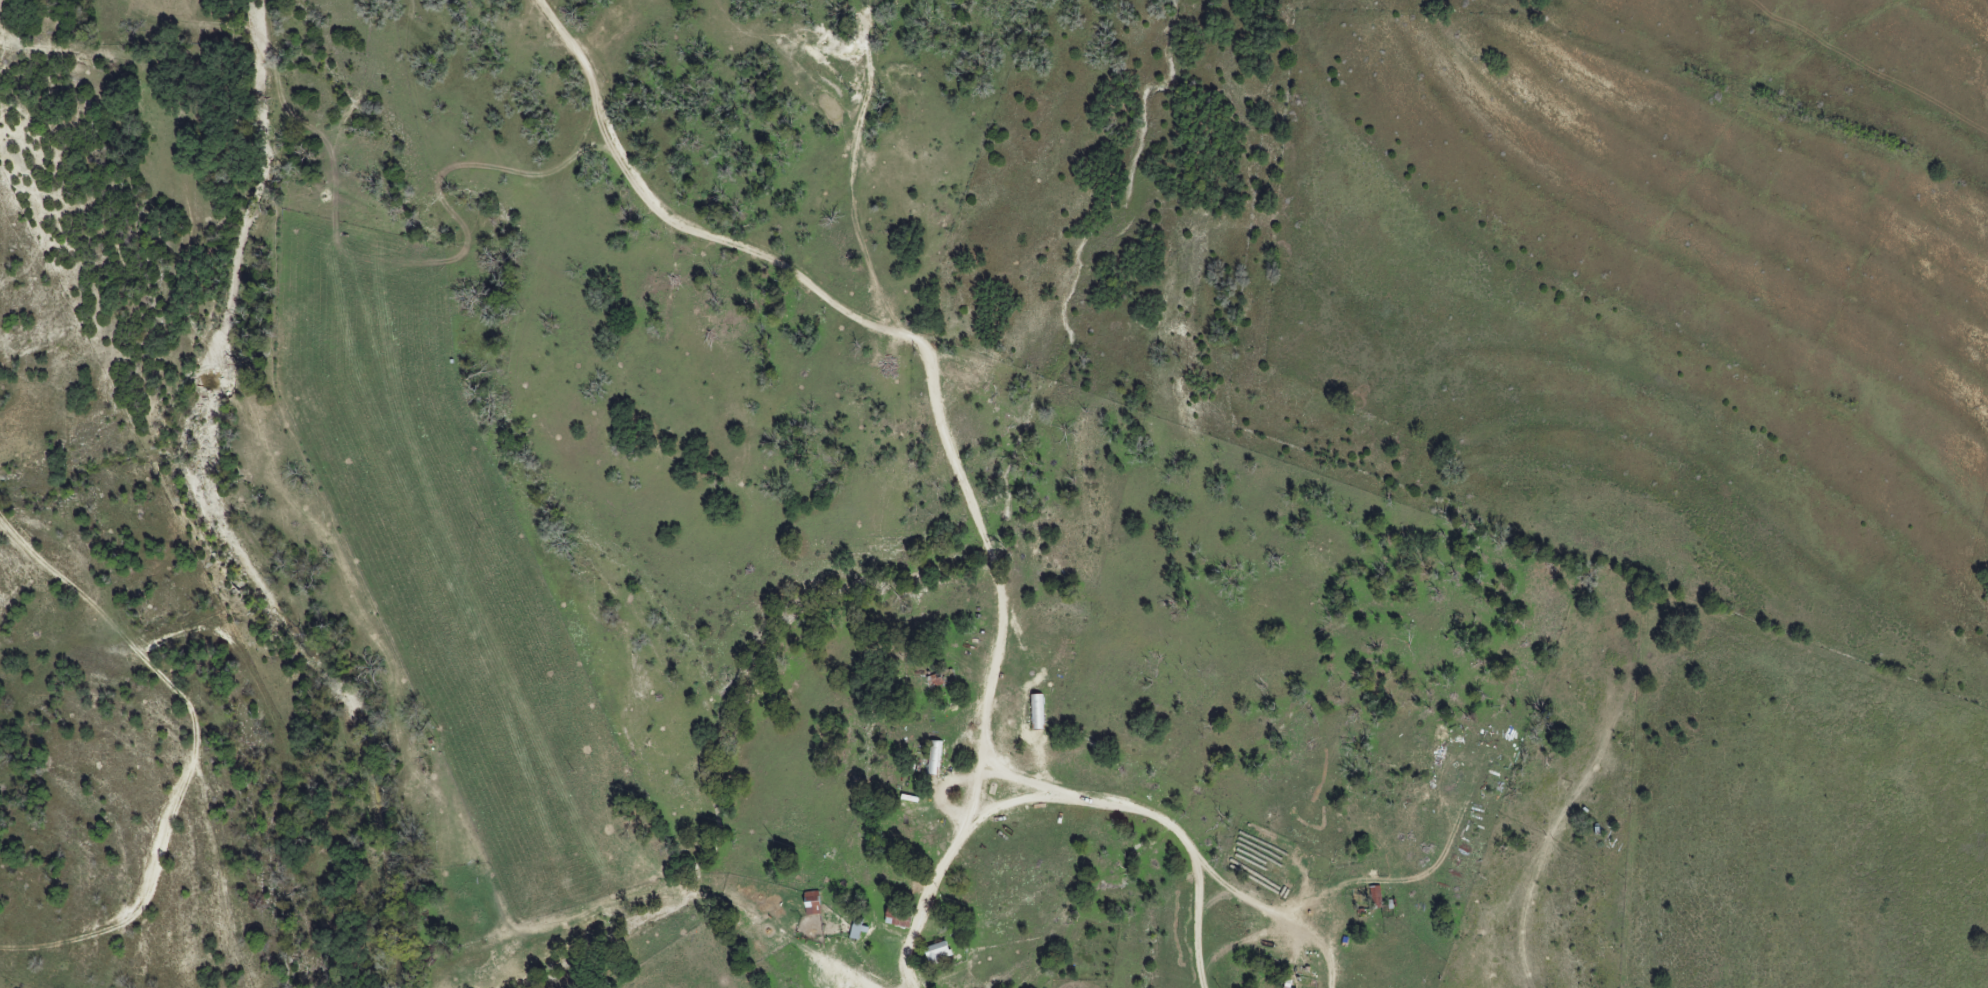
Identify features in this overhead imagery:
road: (905, 336)
building: (1038, 711)
building: (934, 758)
road: (1120, 805)
building: (811, 903)
building: (896, 919)
building: (855, 929)
road: (915, 934)
building: (935, 953)
road: (834, 966)
road: (909, 984)
building: (1284, 987)

